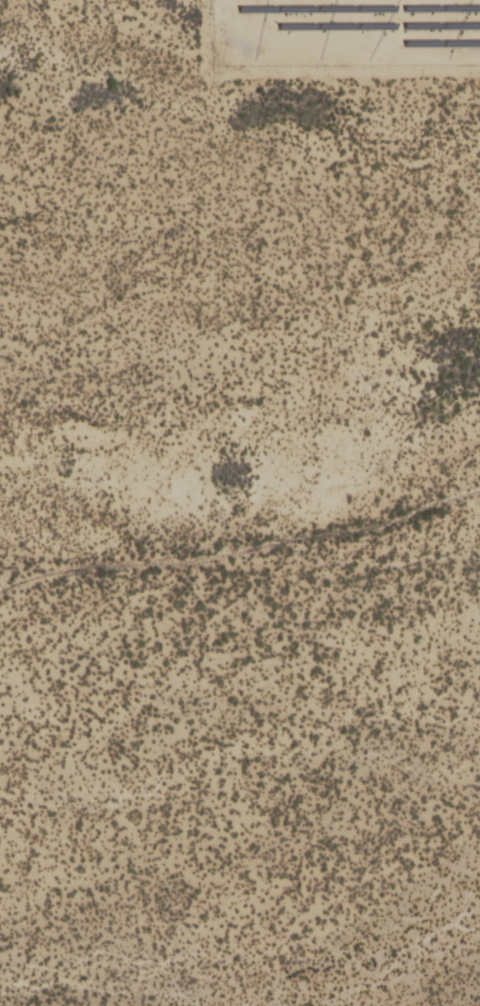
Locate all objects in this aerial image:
building: (324, 681)
building: (173, 821)
building: (303, 903)

